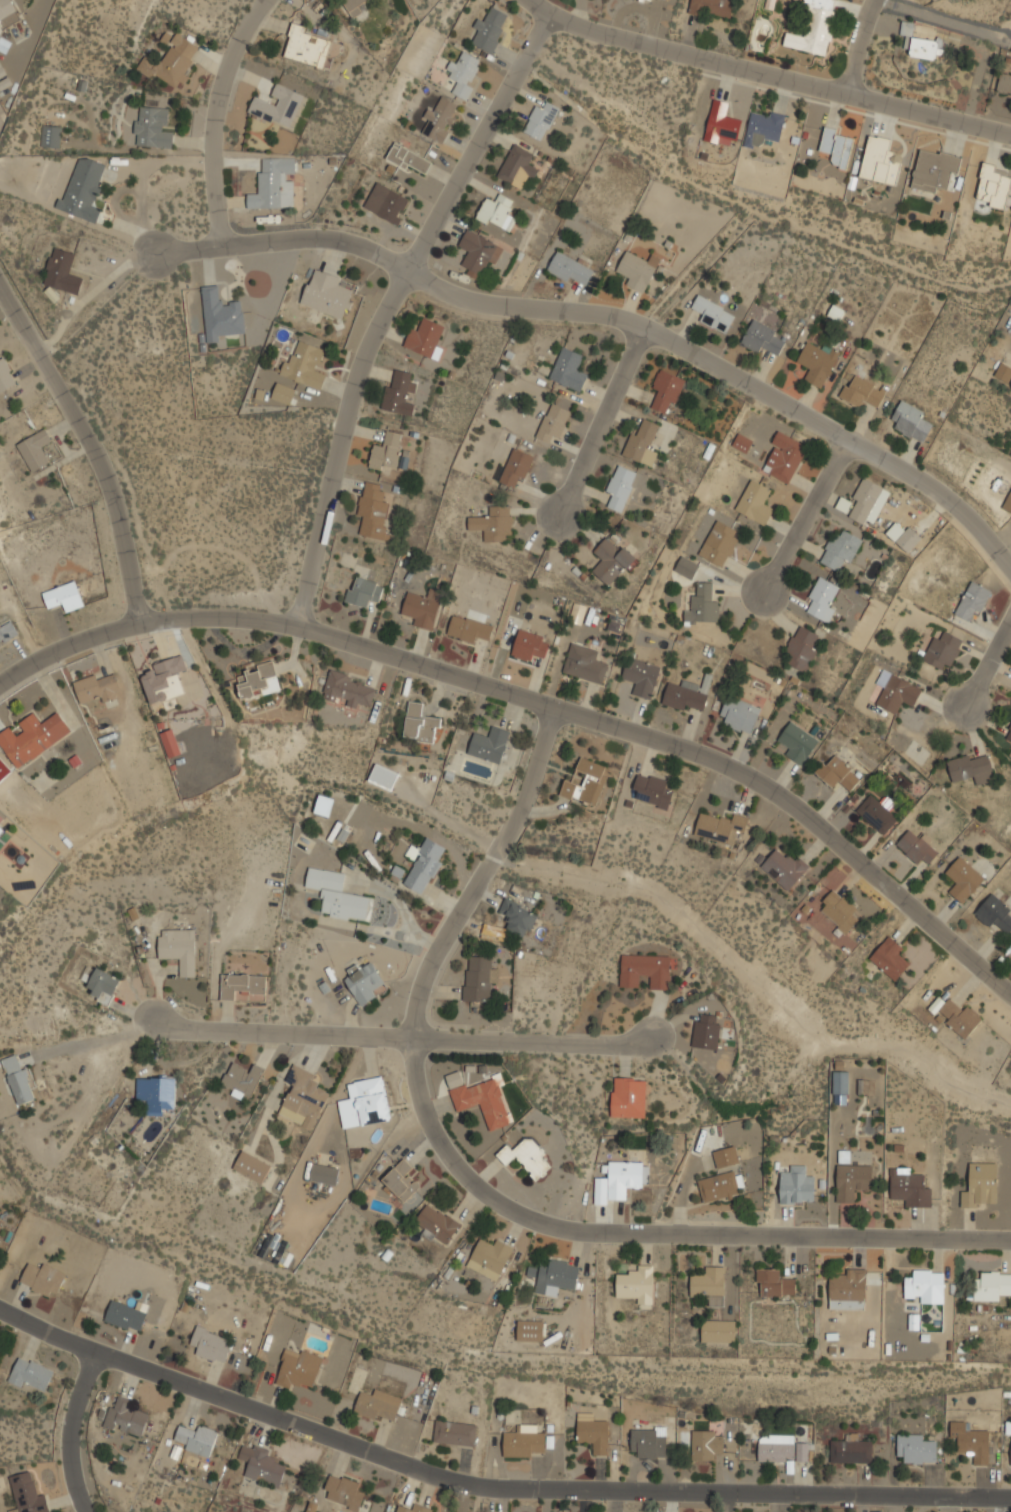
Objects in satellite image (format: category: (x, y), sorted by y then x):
building: (648, 0)
building: (934, 0)
building: (355, 7)
building: (713, 7)
building: (7, 8)
building: (814, 28)
building: (490, 29)
building: (921, 43)
building: (306, 44)
road: (858, 47)
building: (172, 61)
building: (463, 74)
road: (767, 74)
building: (1004, 84)
building: (279, 107)
road: (216, 116)
building: (439, 119)
building: (541, 119)
building: (721, 122)
building: (153, 128)
building: (763, 128)
building: (51, 135)
building: (836, 147)
building: (409, 159)
building: (879, 161)
building: (517, 167)
building: (933, 170)
building: (274, 185)
building: (993, 185)
building: (84, 188)
building: (387, 203)
building: (495, 211)
building: (512, 238)
road: (186, 251)
building: (478, 252)
building: (570, 269)
building: (638, 270)
building: (62, 272)
road: (91, 292)
building: (327, 293)
road: (388, 308)
building: (221, 314)
building: (713, 314)
road: (632, 323)
building: (425, 337)
building: (762, 337)
building: (818, 362)
building: (304, 364)
building: (569, 370)
building: (1003, 372)
building: (5, 375)
building: (668, 389)
building: (862, 392)
building: (397, 393)
building: (283, 394)
road: (600, 421)
building: (911, 421)
building: (553, 424)
road: (94, 442)
building: (642, 442)
building: (741, 442)
building: (35, 449)
building: (387, 452)
building: (783, 457)
building: (517, 469)
building: (620, 487)
building: (863, 500)
building: (755, 502)
building: (1007, 503)
building: (373, 508)
road: (806, 516)
building: (493, 524)
building: (908, 539)
building: (718, 543)
building: (840, 549)
building: (610, 561)
road: (1003, 561)
building: (686, 567)
building: (363, 591)
building: (63, 596)
building: (821, 599)
building: (973, 600)
building: (703, 605)
building: (423, 608)
building: (468, 629)
building: (7, 631)
building: (529, 645)
building: (801, 647)
building: (942, 648)
road: (988, 661)
building: (584, 664)
building: (641, 677)
building: (164, 679)
building: (258, 681)
building: (98, 688)
building: (350, 690)
building: (896, 692)
building: (688, 694)
road: (537, 702)
building: (739, 715)
building: (420, 724)
building: (1009, 735)
building: (32, 737)
building: (170, 742)
building: (797, 742)
building: (489, 744)
building: (972, 768)
building: (837, 772)
building: (383, 776)
building: (587, 783)
building: (651, 791)
building: (324, 805)
building: (876, 814)
building: (2, 820)
building: (720, 827)
building: (1, 829)
building: (916, 848)
building: (425, 866)
building: (784, 868)
building: (962, 879)
building: (337, 896)
building: (837, 910)
road: (404, 912)
building: (994, 913)
building: (517, 917)
building: (179, 948)
building: (889, 957)
building: (644, 970)
building: (479, 978)
building: (103, 982)
building: (363, 982)
building: (241, 984)
building: (936, 1005)
building: (960, 1018)
building: (706, 1031)
road: (280, 1032)
road: (96, 1039)
road: (531, 1040)
building: (18, 1079)
building: (242, 1080)
building: (840, 1082)
building: (156, 1092)
building: (303, 1097)
building: (629, 1099)
building: (484, 1101)
building: (365, 1103)
building: (730, 1155)
building: (527, 1158)
building: (251, 1167)
building: (324, 1173)
building: (402, 1180)
building: (619, 1181)
building: (852, 1181)
building: (718, 1186)
building: (981, 1186)
building: (909, 1189)
building: (796, 1190)
road: (482, 1191)
building: (436, 1224)
building: (490, 1258)
building: (556, 1277)
building: (42, 1278)
building: (637, 1283)
building: (774, 1284)
building: (709, 1285)
building: (925, 1286)
building: (992, 1286)
building: (848, 1289)
building: (125, 1316)
building: (530, 1330)
building: (717, 1331)
building: (210, 1344)
building: (298, 1369)
building: (31, 1375)
building: (379, 1405)
building: (125, 1418)
road: (69, 1431)
building: (455, 1433)
building: (592, 1433)
building: (195, 1439)
building: (971, 1441)
building: (524, 1442)
building: (649, 1442)
building: (707, 1445)
building: (780, 1448)
building: (915, 1449)
building: (851, 1450)
building: (1010, 1463)
building: (263, 1466)
road: (489, 1483)
building: (343, 1492)
building: (27, 1494)
building: (415, 1508)

